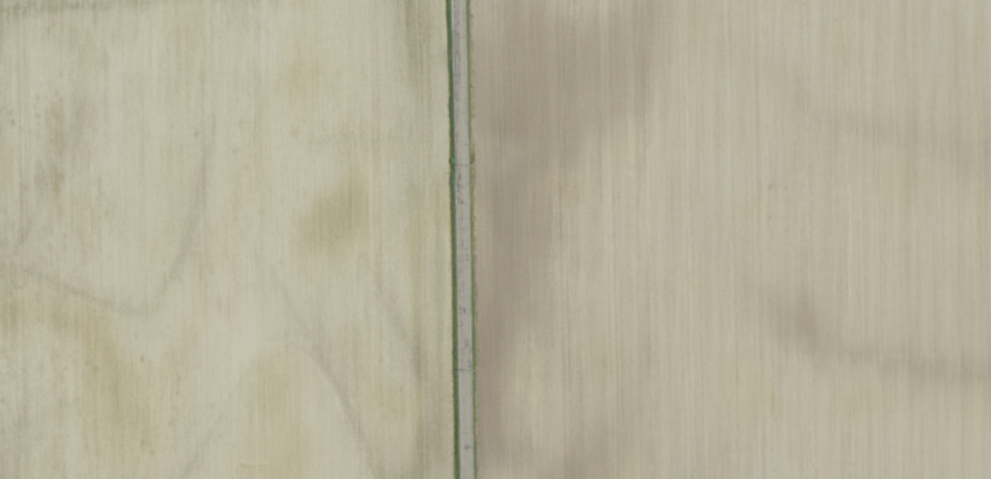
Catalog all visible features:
road: (461, 239)

